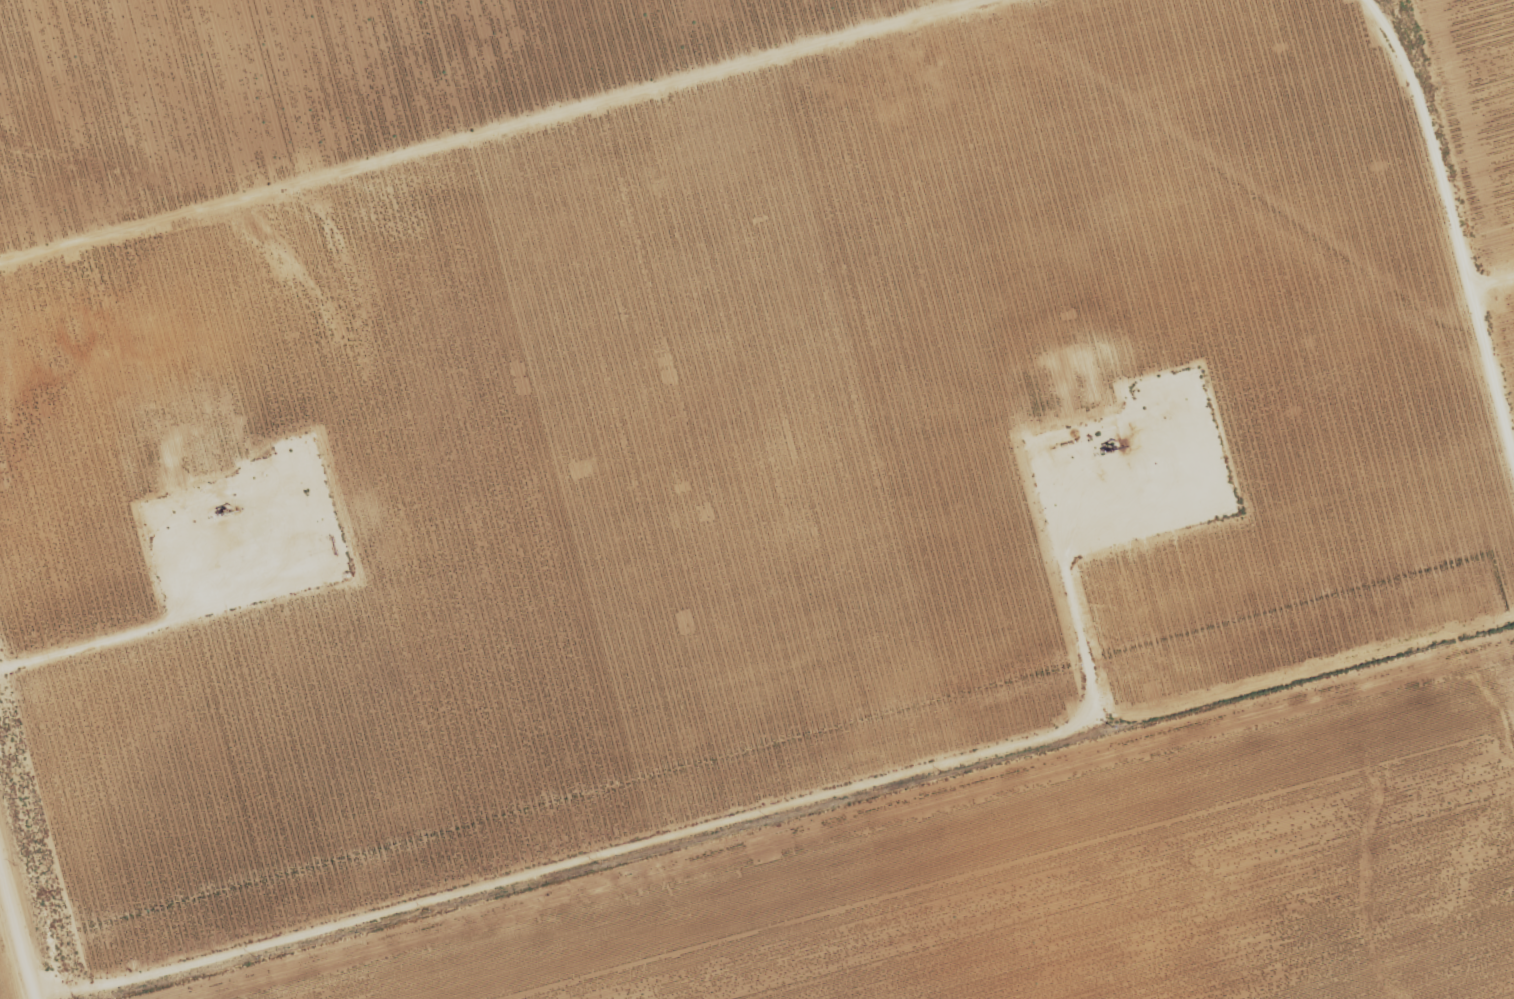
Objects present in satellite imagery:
road: (507, 166)
road: (1454, 227)
road: (14, 944)

